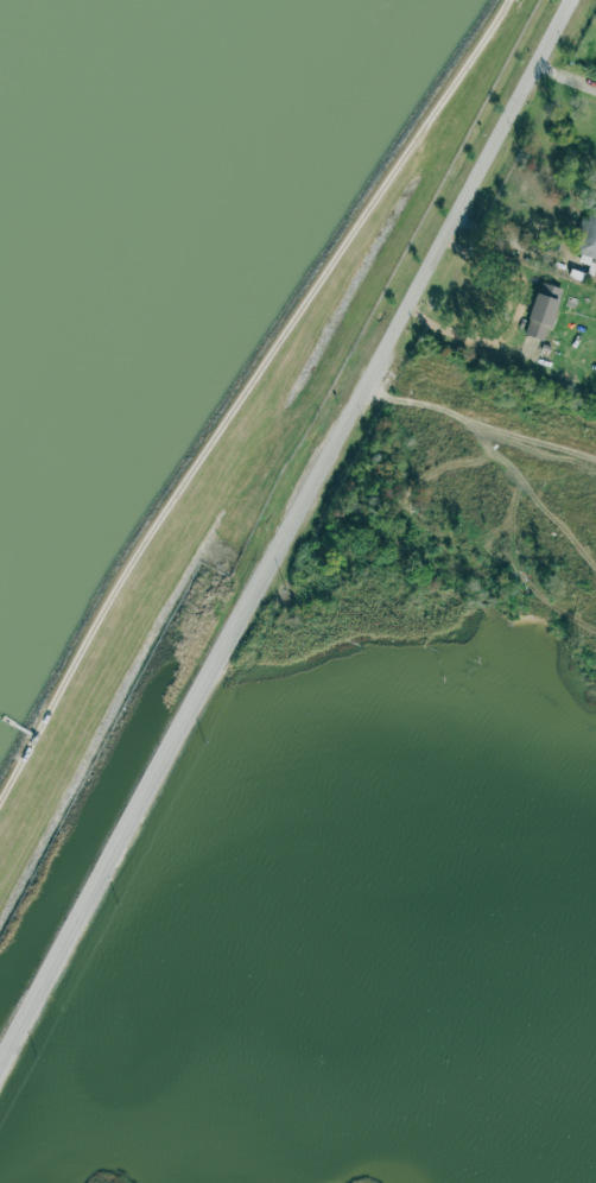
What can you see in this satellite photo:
building: (588, 234)
building: (543, 308)
road: (243, 392)
road: (290, 537)

